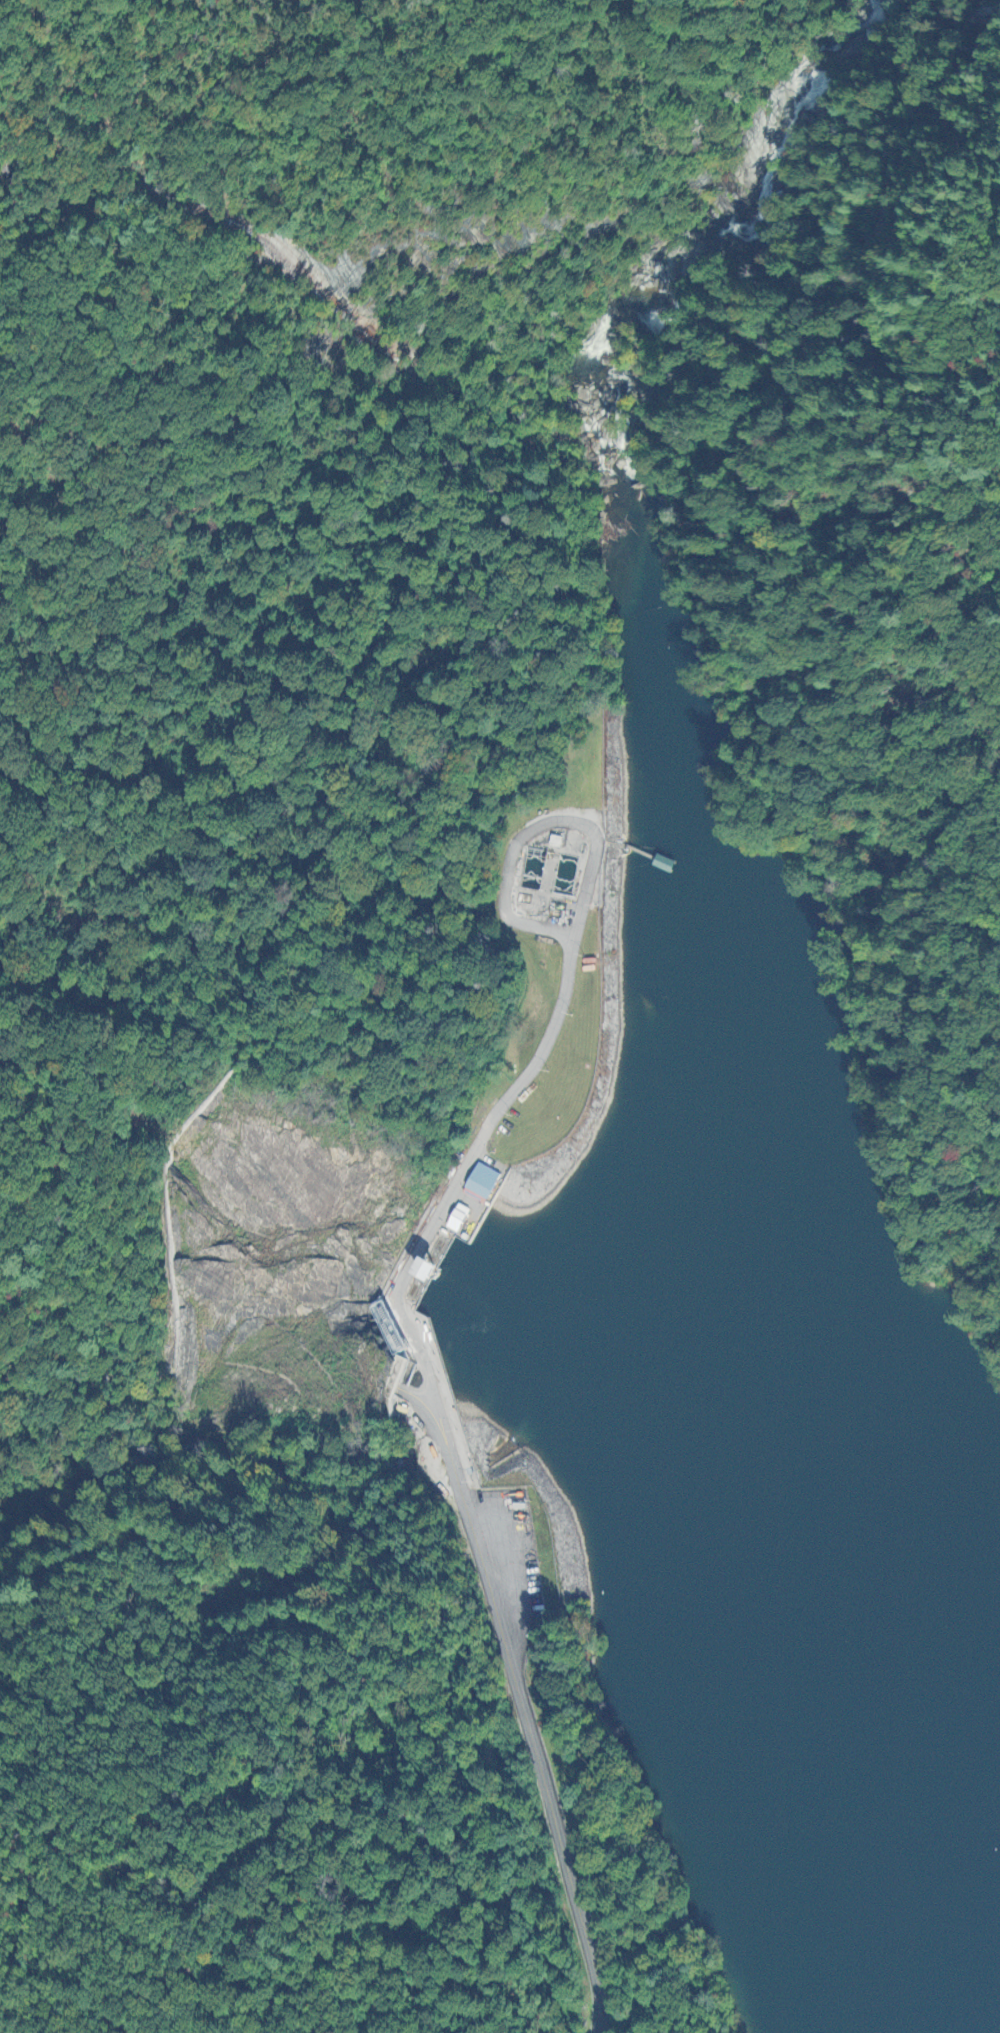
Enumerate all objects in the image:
river: (674, 279)
road: (539, 831)
building: (482, 1184)
parking lot: (480, 1201)
building: (459, 1219)
building: (429, 1270)
road: (448, 1471)
parking lot: (517, 1577)

